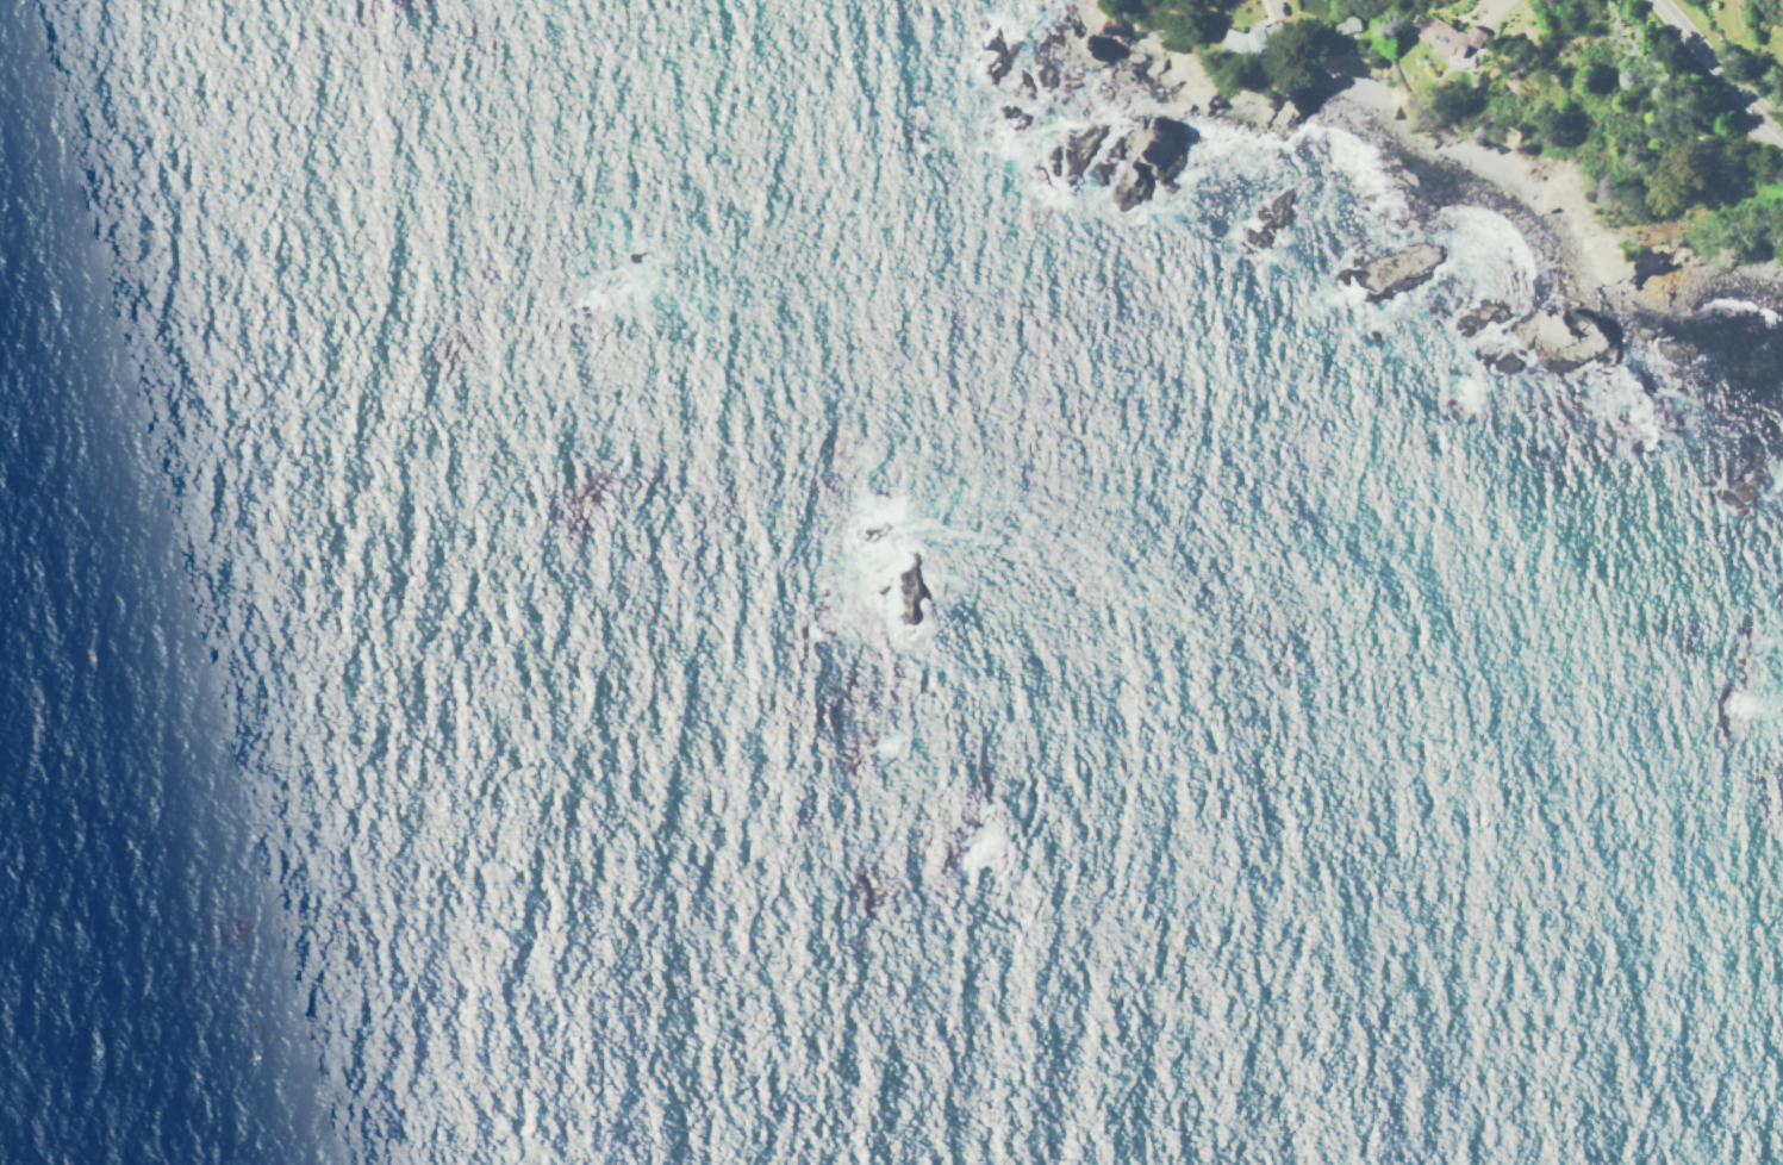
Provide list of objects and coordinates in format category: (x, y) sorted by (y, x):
building: (1452, 37)
building: (1255, 39)
road: (1721, 64)

